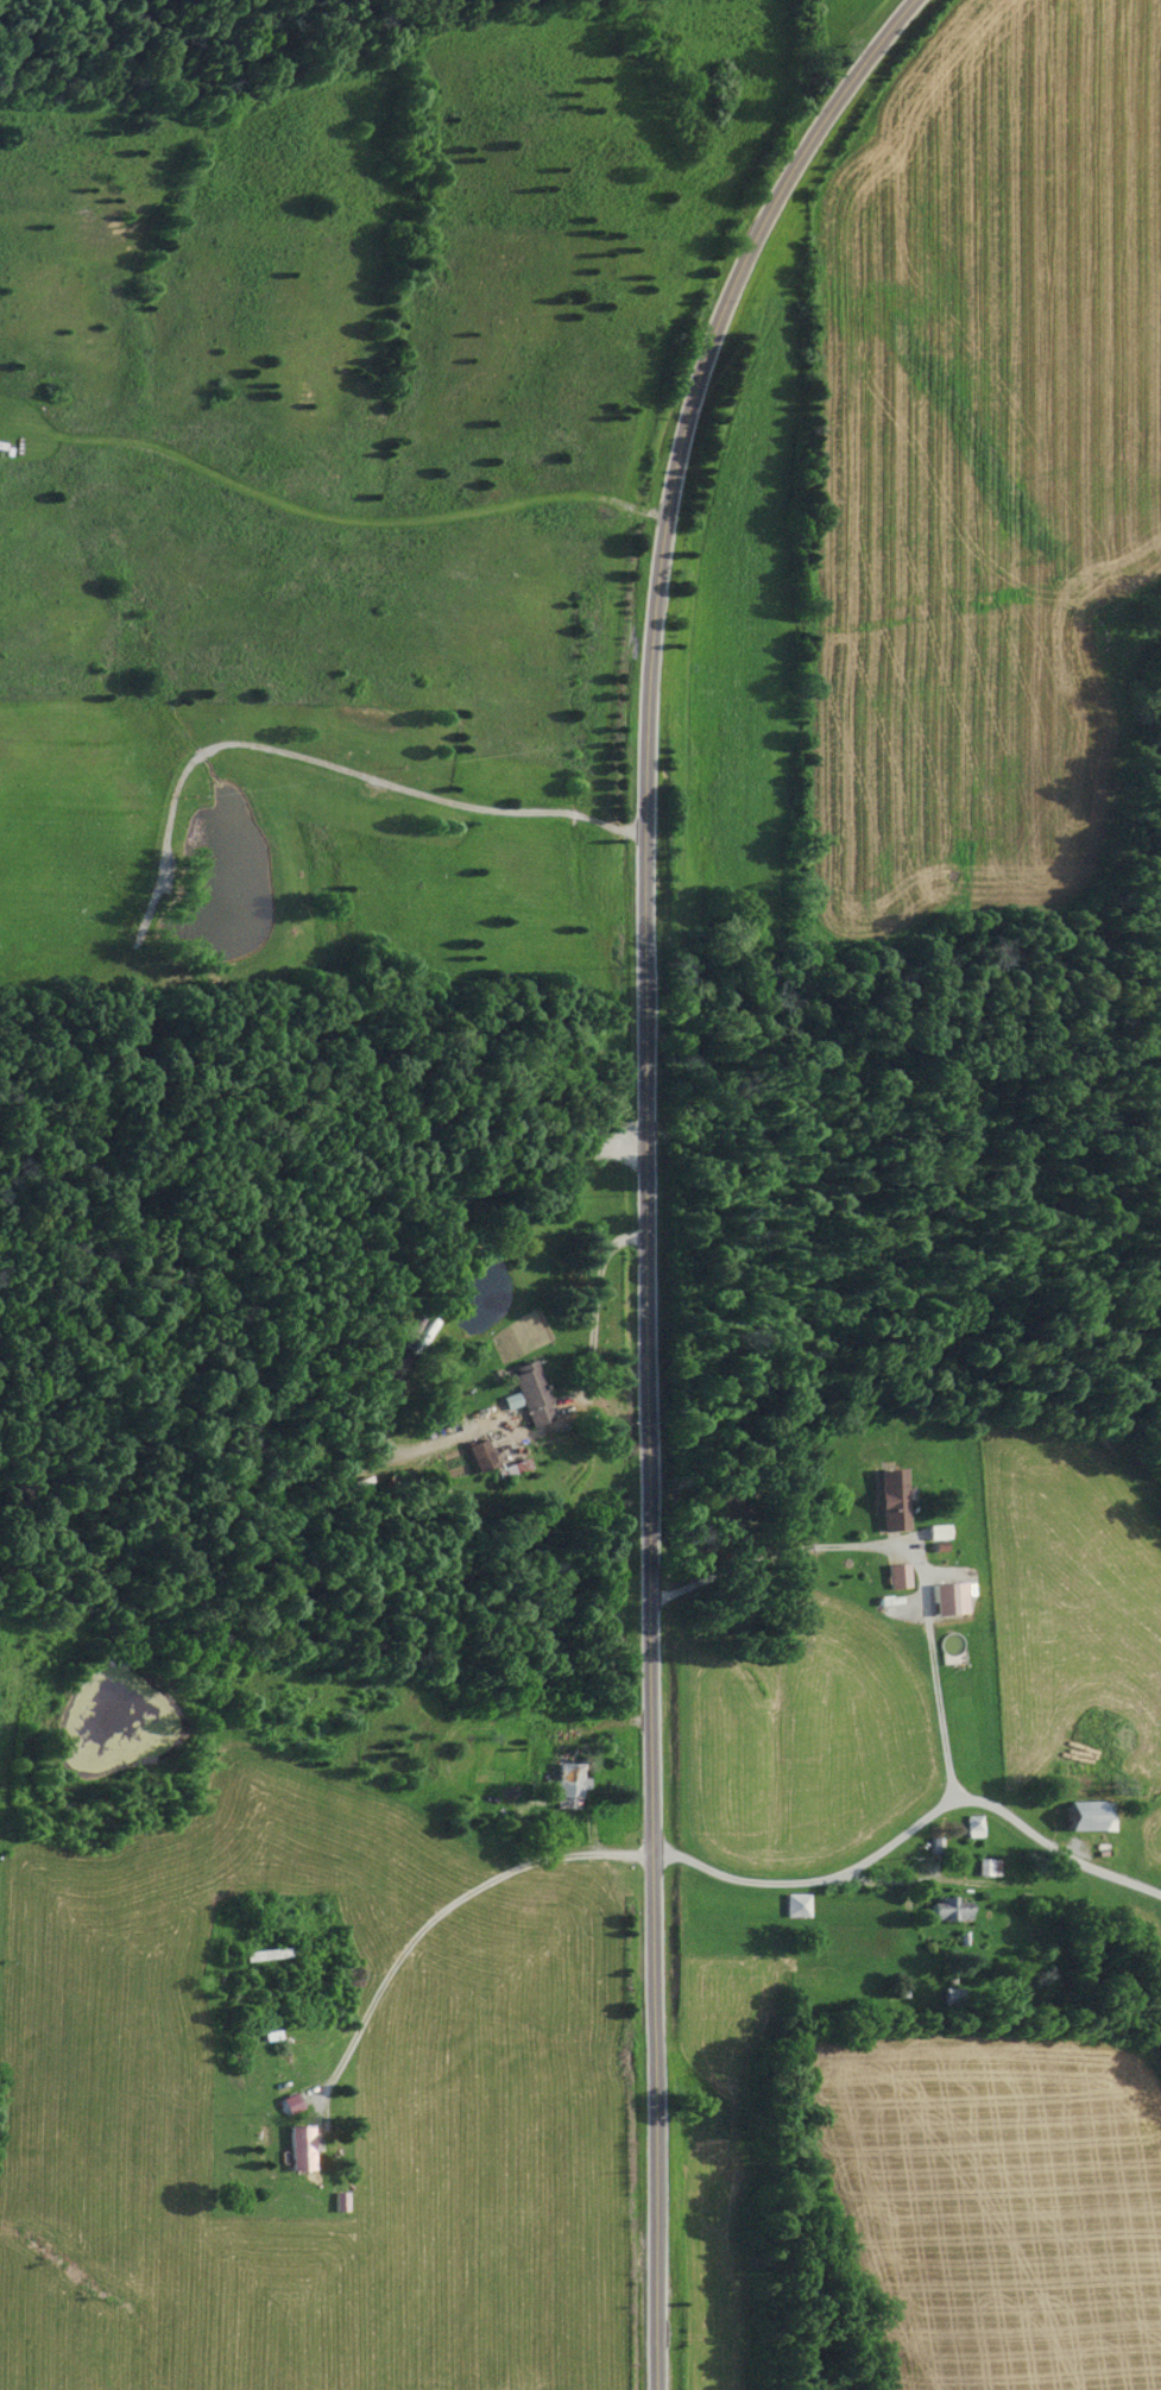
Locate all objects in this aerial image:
road: (651, 1162)
building: (526, 1395)
building: (478, 1457)
building: (889, 1501)
building: (934, 1533)
road: (829, 1547)
building: (896, 1577)
building: (946, 1600)
building: (566, 1780)
building: (1086, 1816)
building: (972, 1827)
building: (986, 1868)
building: (257, 1906)
building: (794, 1906)
building: (947, 1909)
building: (265, 1955)
building: (952, 1998)
building: (298, 2149)

